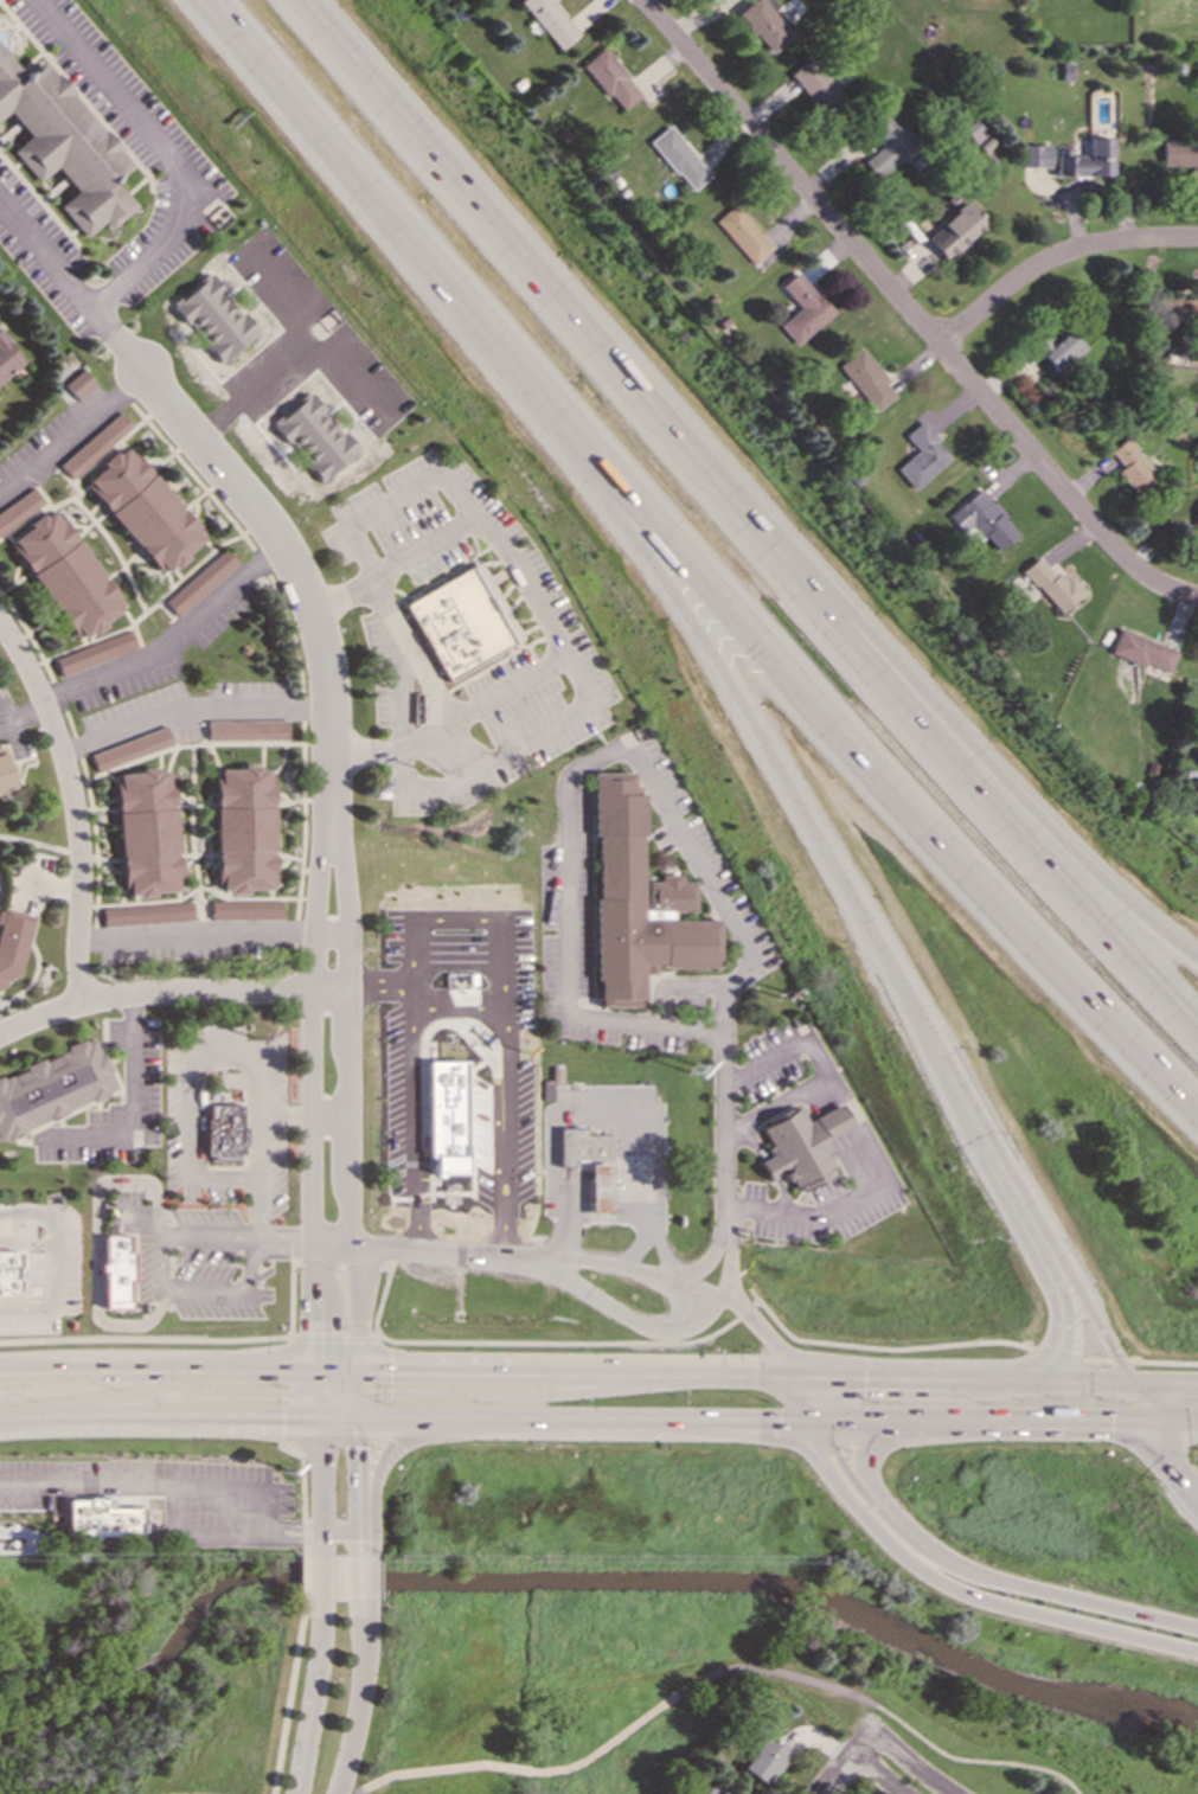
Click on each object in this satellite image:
building: (550, 21)
building: (763, 25)
building: (611, 79)
building: (815, 85)
building: (979, 136)
building: (58, 142)
building: (888, 145)
road: (167, 149)
building: (1181, 154)
building: (1036, 155)
building: (679, 159)
building: (1089, 160)
road: (395, 211)
building: (955, 231)
building: (744, 233)
road: (1055, 252)
road: (49, 254)
road: (287, 288)
building: (803, 309)
road: (912, 309)
building: (1179, 309)
building: (217, 318)
road: (108, 323)
road: (302, 347)
building: (1059, 350)
building: (8, 358)
building: (867, 379)
building: (82, 384)
road: (72, 430)
building: (319, 436)
building: (97, 446)
building: (922, 456)
building: (1134, 467)
road: (377, 507)
building: (20, 510)
building: (147, 510)
road: (744, 515)
building: (984, 521)
building: (1197, 521)
road: (288, 545)
building: (69, 575)
building: (203, 583)
building: (1053, 585)
road: (546, 610)
building: (461, 624)
road: (294, 632)
road: (177, 639)
building: (1142, 651)
building: (96, 653)
road: (418, 668)
road: (37, 679)
road: (193, 709)
road: (24, 715)
building: (248, 730)
road: (198, 743)
building: (132, 749)
road: (81, 754)
road: (973, 754)
road: (574, 773)
building: (5, 774)
road: (878, 774)
road: (465, 775)
road: (192, 815)
building: (244, 829)
building: (147, 832)
road: (824, 841)
road: (59, 847)
road: (198, 886)
building: (638, 903)
building: (245, 910)
road: (475, 912)
building: (147, 914)
road: (81, 915)
road: (197, 934)
building: (13, 942)
road: (30, 979)
road: (378, 989)
road: (210, 991)
road: (411, 1005)
road: (505, 1032)
road: (787, 1047)
road: (194, 1065)
building: (53, 1087)
road: (310, 1089)
road: (347, 1089)
building: (454, 1094)
road: (604, 1098)
road: (132, 1106)
road: (723, 1123)
building: (223, 1134)
road: (415, 1134)
building: (582, 1145)
gas station: (582, 1145)
building: (801, 1145)
road: (869, 1147)
gas station: (600, 1188)
road: (501, 1196)
road: (256, 1210)
road: (95, 1239)
road: (286, 1242)
road: (436, 1247)
road: (662, 1250)
road: (728, 1251)
road: (55, 1260)
road: (339, 1260)
road: (704, 1262)
building: (115, 1271)
building: (8, 1273)
road: (641, 1273)
road: (158, 1280)
road: (635, 1322)
road: (1091, 1324)
road: (1064, 1328)
traffic signals: (312, 1332)
traffic signals: (1064, 1334)
road: (762, 1337)
road: (188, 1339)
road: (334, 1339)
road: (674, 1341)
road: (1050, 1353)
road: (1088, 1360)
road: (1110, 1360)
road: (1160, 1361)
road: (335, 1371)
road: (155, 1372)
traffic signals: (389, 1372)
road: (518, 1372)
road: (741, 1376)
traffic signals: (803, 1378)
road: (963, 1378)
traffic signals: (1125, 1378)
road: (1161, 1378)
road: (313, 1382)
road: (338, 1384)
road: (72, 1385)
road: (288, 1392)
road: (359, 1392)
road: (178, 1393)
traffic signals: (389, 1393)
road: (495, 1393)
traffic signals: (281, 1395)
road: (808, 1398)
road: (1138, 1398)
road: (315, 1403)
road: (158, 1414)
traffic signals: (281, 1414)
road: (338, 1415)
road: (405, 1416)
road: (633, 1417)
road: (1052, 1417)
traffic signals: (1151, 1418)
traffic signals: (814, 1420)
road: (860, 1420)
road: (395, 1441)
traffic signals: (360, 1446)
road: (871, 1447)
road: (360, 1454)
road: (831, 1454)
road: (1168, 1469)
road: (318, 1472)
road: (167, 1486)
road: (300, 1501)
road: (360, 1511)
building: (101, 1519)
road: (340, 1530)
road: (361, 1540)
road: (319, 1542)
road: (134, 1543)
road: (302, 1572)
road: (320, 1575)
road: (361, 1575)
river: (575, 1582)
road: (965, 1590)
road: (1010, 1590)
road: (288, 1689)
road: (313, 1694)
road: (360, 1696)
road: (899, 1755)
building: (763, 1756)
road: (972, 1758)
road: (521, 1768)
road: (835, 1774)
road: (876, 1775)
building: (712, 1789)

